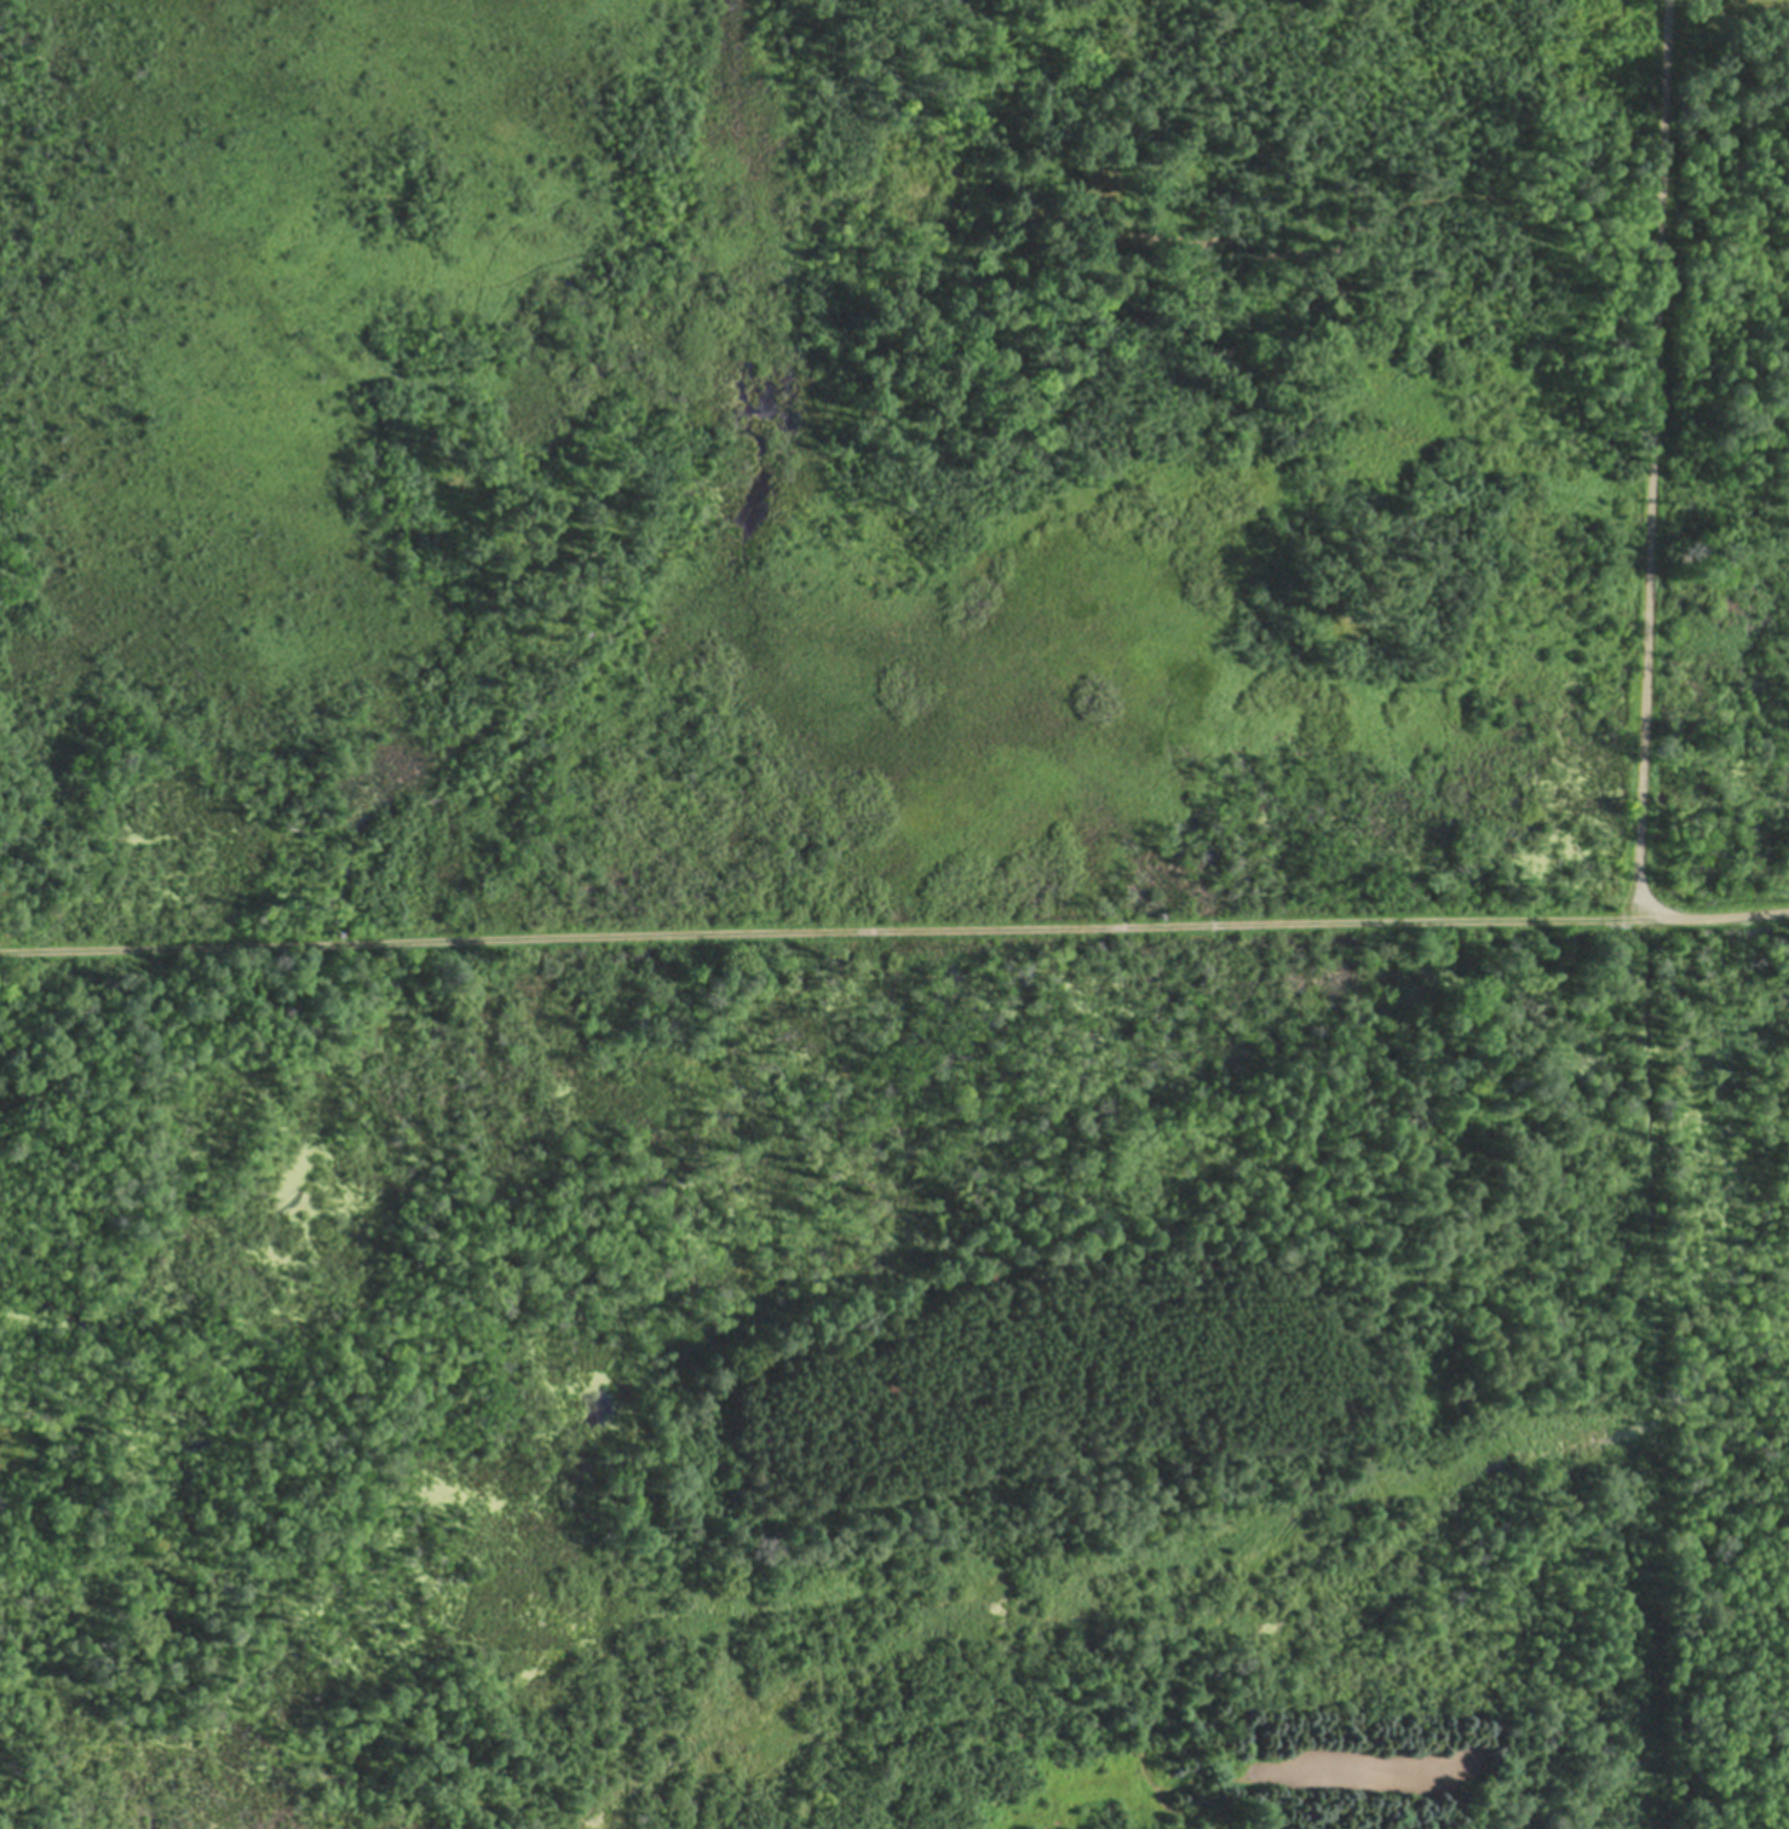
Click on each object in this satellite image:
road: (1653, 456)
road: (1715, 910)
road: (821, 930)

